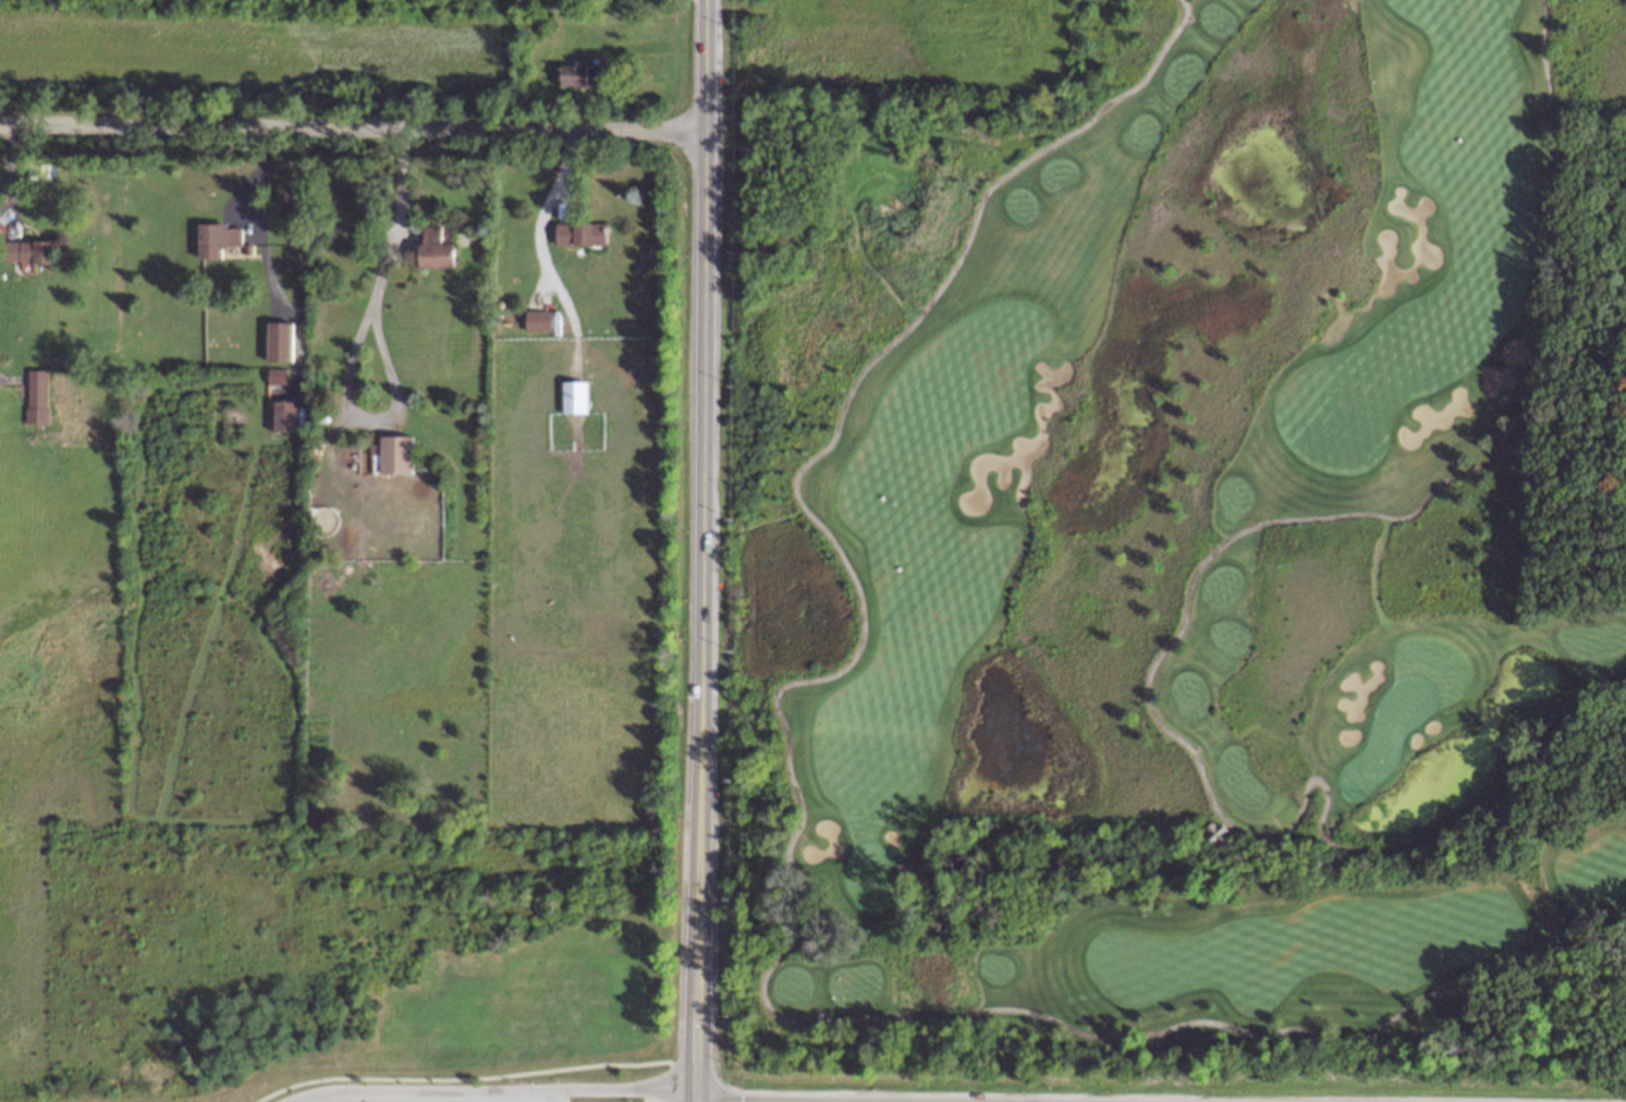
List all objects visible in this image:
crop: (245, 52)
building: (587, 75)
road: (352, 127)
road: (570, 172)
building: (582, 234)
building: (220, 238)
building: (437, 252)
building: (27, 253)
road: (548, 266)
building: (539, 320)
building: (279, 341)
road: (353, 346)
road: (854, 381)
building: (38, 395)
building: (575, 396)
building: (285, 415)
building: (396, 454)
road: (1413, 512)
park: (1184, 540)
road: (700, 550)
road: (1494, 796)
road: (1304, 799)
road: (1099, 1036)
road: (445, 1099)
road: (454, 1101)

